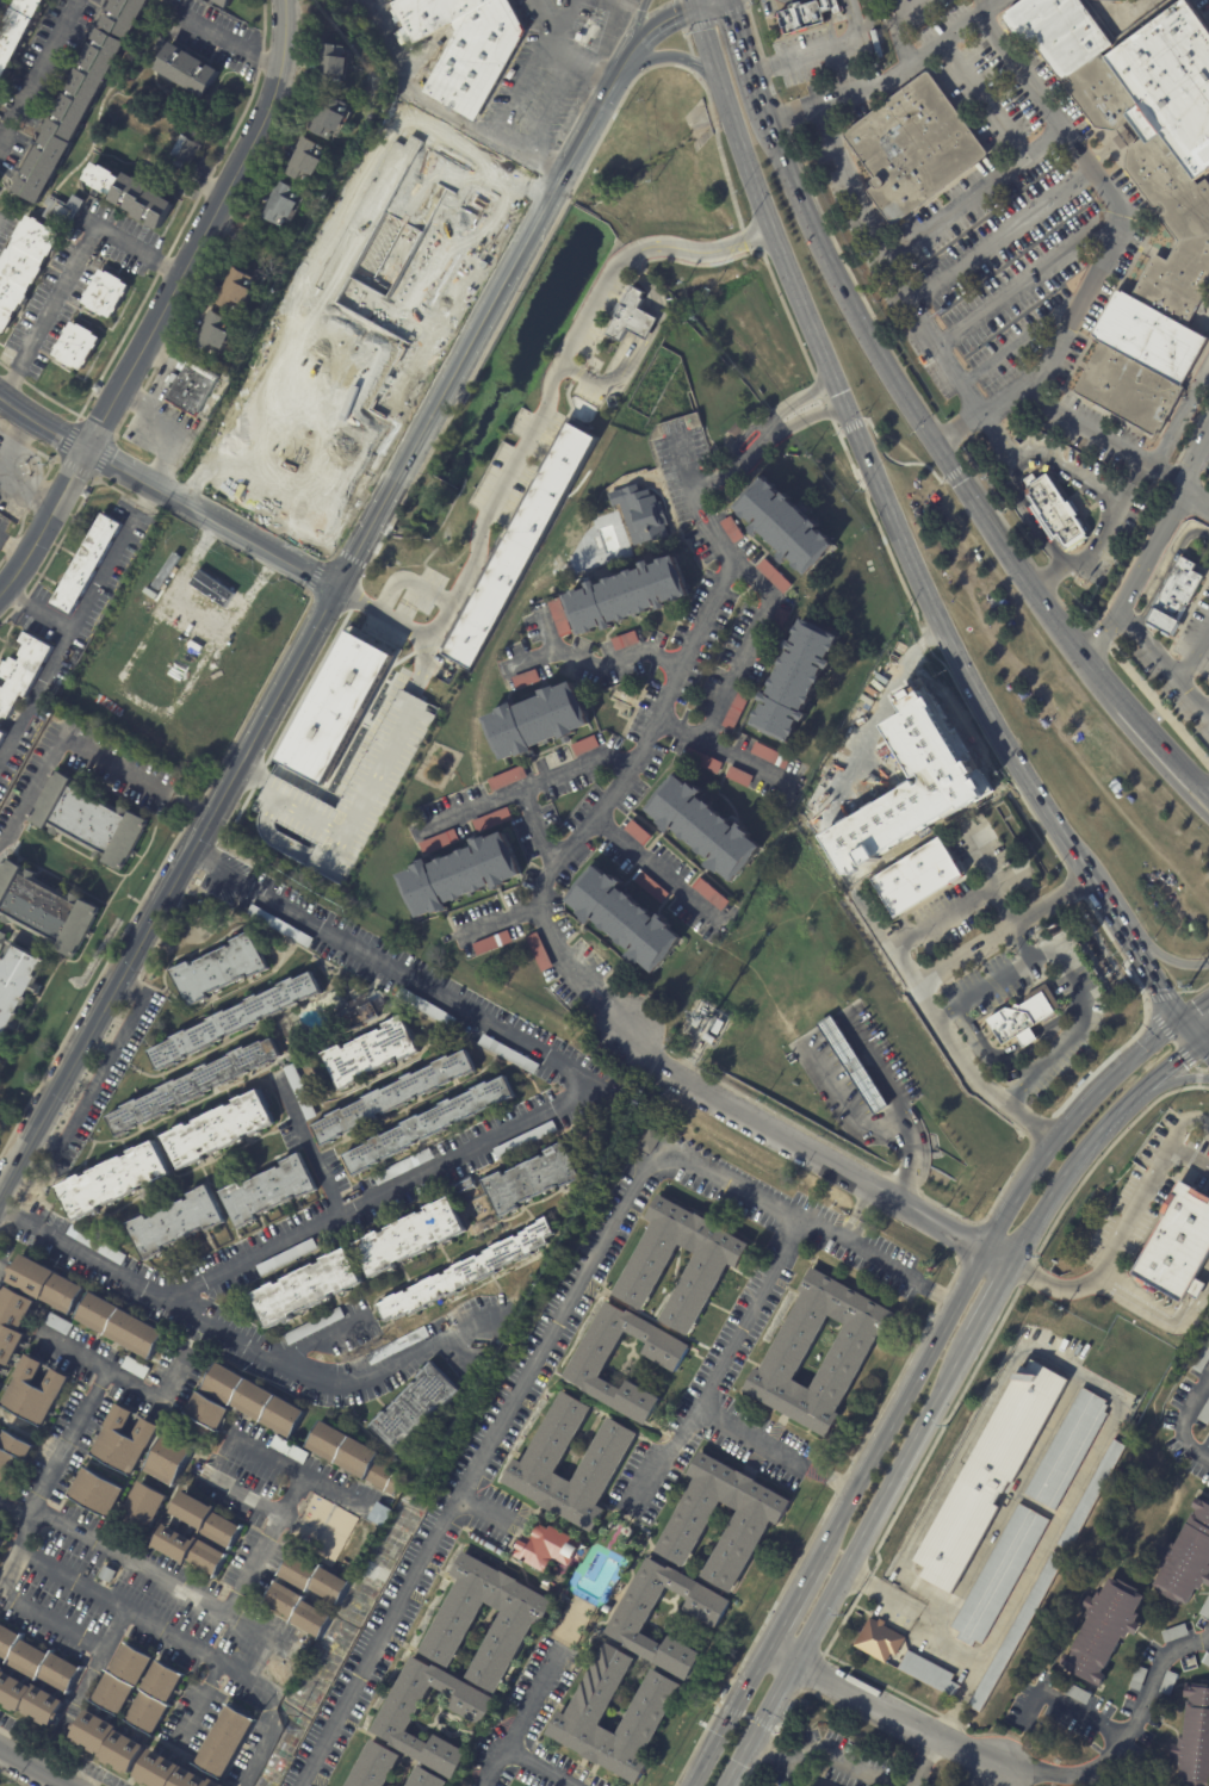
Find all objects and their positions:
building: (223, 2)
road: (701, 2)
road: (709, 2)
road: (981, 5)
traffic signals: (702, 6)
road: (988, 6)
building: (124, 15)
building: (805, 15)
road: (665, 19)
road: (895, 26)
building: (18, 32)
road: (632, 36)
road: (740, 39)
road: (941, 42)
road: (231, 46)
building: (472, 48)
road: (559, 52)
road: (825, 52)
road: (676, 56)
road: (626, 57)
building: (336, 64)
building: (187, 69)
road: (39, 72)
road: (858, 92)
road: (523, 94)
road: (441, 111)
building: (69, 114)
building: (334, 117)
road: (397, 141)
building: (912, 148)
building: (185, 153)
building: (309, 161)
building: (452, 174)
building: (1142, 190)
building: (131, 194)
building: (285, 203)
road: (861, 204)
road: (957, 207)
building: (61, 210)
road: (1002, 235)
building: (23, 265)
road: (73, 265)
road: (1028, 277)
road: (646, 283)
building: (236, 290)
building: (104, 292)
road: (1077, 304)
road: (166, 305)
building: (633, 317)
road: (643, 323)
road: (479, 330)
building: (211, 335)
road: (1023, 336)
building: (75, 345)
road: (870, 345)
road: (944, 359)
road: (607, 379)
road: (308, 382)
building: (193, 386)
road: (798, 403)
traffic signals: (842, 405)
road: (43, 420)
road: (807, 421)
road: (533, 423)
road: (1089, 427)
building: (736, 429)
road: (1173, 430)
road: (742, 438)
road: (1002, 439)
traffic signals: (935, 445)
road: (893, 460)
road: (1040, 461)
road: (120, 465)
park: (292, 465)
road: (737, 465)
road: (866, 465)
parking lot: (1205, 470)
road: (1186, 482)
railway: (903, 495)
building: (1055, 511)
building: (641, 514)
building: (785, 526)
building: (732, 529)
road: (246, 537)
building: (519, 544)
road: (13, 547)
road: (1146, 559)
building: (86, 563)
road: (1071, 565)
road: (1166, 572)
building: (774, 576)
road: (1048, 578)
road: (409, 581)
road: (762, 587)
building: (627, 595)
building: (1173, 597)
road: (37, 610)
building: (559, 616)
road: (75, 620)
road: (1055, 620)
building: (777, 621)
road: (1123, 626)
parking lot: (1196, 632)
road: (1098, 638)
building: (625, 640)
road: (1193, 652)
road: (1157, 655)
road: (172, 659)
road: (533, 662)
road: (1090, 663)
road: (601, 666)
building: (21, 671)
building: (526, 680)
building: (793, 680)
road: (1193, 695)
road: (1154, 700)
building: (336, 707)
building: (734, 709)
building: (537, 721)
road: (875, 721)
building: (1, 736)
road: (1153, 737)
building: (585, 745)
road: (82, 746)
road: (728, 752)
road: (1143, 752)
building: (769, 755)
building: (702, 759)
building: (739, 776)
building: (507, 777)
road: (626, 779)
building: (349, 789)
parking garage: (349, 789)
road: (527, 789)
building: (899, 792)
road: (1207, 793)
building: (88, 819)
building: (491, 819)
road: (539, 826)
building: (703, 826)
building: (637, 832)
building: (440, 842)
road: (985, 861)
road: (217, 870)
road: (661, 872)
building: (459, 874)
building: (916, 878)
building: (651, 886)
road: (169, 892)
building: (711, 894)
building: (45, 908)
road: (1000, 910)
road: (1109, 911)
building: (624, 919)
road: (943, 920)
building: (277, 924)
road: (503, 924)
building: (492, 943)
road: (1019, 944)
building: (539, 951)
road: (1160, 956)
road: (906, 967)
building: (218, 970)
road: (1149, 974)
road: (1068, 979)
road: (413, 981)
building: (17, 986)
road: (601, 987)
road: (918, 988)
road: (588, 998)
building: (428, 1007)
road: (1193, 1011)
building: (362, 1015)
building: (1021, 1018)
road: (1055, 1018)
road: (616, 1019)
building: (696, 1022)
traffic signals: (1179, 1022)
building: (235, 1023)
building: (718, 1028)
road: (1190, 1035)
road: (1027, 1037)
building: (708, 1038)
road: (826, 1040)
road: (981, 1046)
road: (1205, 1046)
traffic signals: (1202, 1049)
road: (1205, 1052)
building: (374, 1053)
building: (511, 1054)
building: (855, 1065)
road: (104, 1075)
road: (1177, 1081)
building: (191, 1087)
building: (302, 1091)
building: (396, 1098)
building: (433, 1125)
building: (219, 1130)
building: (528, 1141)
building: (650, 1141)
road: (1095, 1146)
road: (315, 1148)
road: (816, 1155)
road: (1190, 1159)
road: (913, 1164)
building: (407, 1167)
building: (535, 1180)
building: (114, 1182)
building: (470, 1187)
building: (273, 1191)
road: (378, 1198)
road: (863, 1216)
road: (18, 1218)
building: (176, 1224)
road: (1124, 1233)
building: (413, 1239)
building: (97, 1244)
building: (1178, 1247)
building: (1134, 1252)
building: (289, 1257)
building: (709, 1266)
road: (2, 1269)
building: (467, 1273)
building: (42, 1282)
building: (303, 1290)
road: (992, 1304)
road: (1160, 1320)
road: (558, 1321)
building: (12, 1322)
building: (57, 1322)
building: (123, 1323)
building: (314, 1326)
road: (320, 1338)
building: (397, 1345)
road: (255, 1351)
building: (851, 1353)
building: (1202, 1359)
building: (590, 1363)
building: (135, 1365)
road: (1069, 1368)
road: (724, 1370)
road: (119, 1381)
road: (911, 1384)
building: (33, 1390)
building: (255, 1402)
building: (414, 1407)
building: (1204, 1415)
building: (204, 1416)
road: (1185, 1416)
building: (124, 1439)
road: (243, 1444)
building: (289, 1449)
building: (1069, 1449)
road: (776, 1452)
building: (12, 1453)
building: (170, 1458)
building: (353, 1458)
building: (604, 1462)
building: (990, 1475)
road: (55, 1482)
building: (94, 1490)
building: (1093, 1495)
building: (143, 1511)
road: (484, 1512)
road: (17, 1515)
building: (384, 1517)
building: (209, 1518)
building: (690, 1523)
building: (184, 1525)
building: (323, 1527)
building: (368, 1534)
building: (0, 1540)
road: (265, 1545)
building: (545, 1545)
building: (190, 1550)
building: (1186, 1557)
road: (849, 1563)
building: (106, 1573)
building: (1000, 1575)
building: (317, 1577)
road: (167, 1581)
building: (546, 1581)
road: (892, 1596)
building: (606, 1607)
building: (1205, 1608)
building: (302, 1611)
building: (632, 1619)
road: (51, 1620)
building: (454, 1624)
building: (1105, 1629)
building: (1016, 1631)
building: (1176, 1633)
building: (879, 1639)
road: (1208, 1642)
road: (186, 1645)
building: (41, 1652)
road: (256, 1657)
building: (1205, 1658)
building: (930, 1674)
building: (1139, 1678)
building: (122, 1679)
building: (1170, 1683)
road: (80, 1692)
building: (1078, 1693)
building: (157, 1698)
building: (29, 1700)
road: (199, 1704)
road: (1072, 1712)
building: (646, 1713)
road: (880, 1713)
building: (395, 1716)
road: (525, 1718)
building: (224, 1737)
building: (1195, 1740)
road: (1124, 1742)
building: (108, 1743)
road: (769, 1753)
road: (839, 1762)
road: (925, 1763)
building: (371, 1766)
road: (31, 1768)
road: (532, 1771)
building: (167, 1773)
building: (422, 1778)

